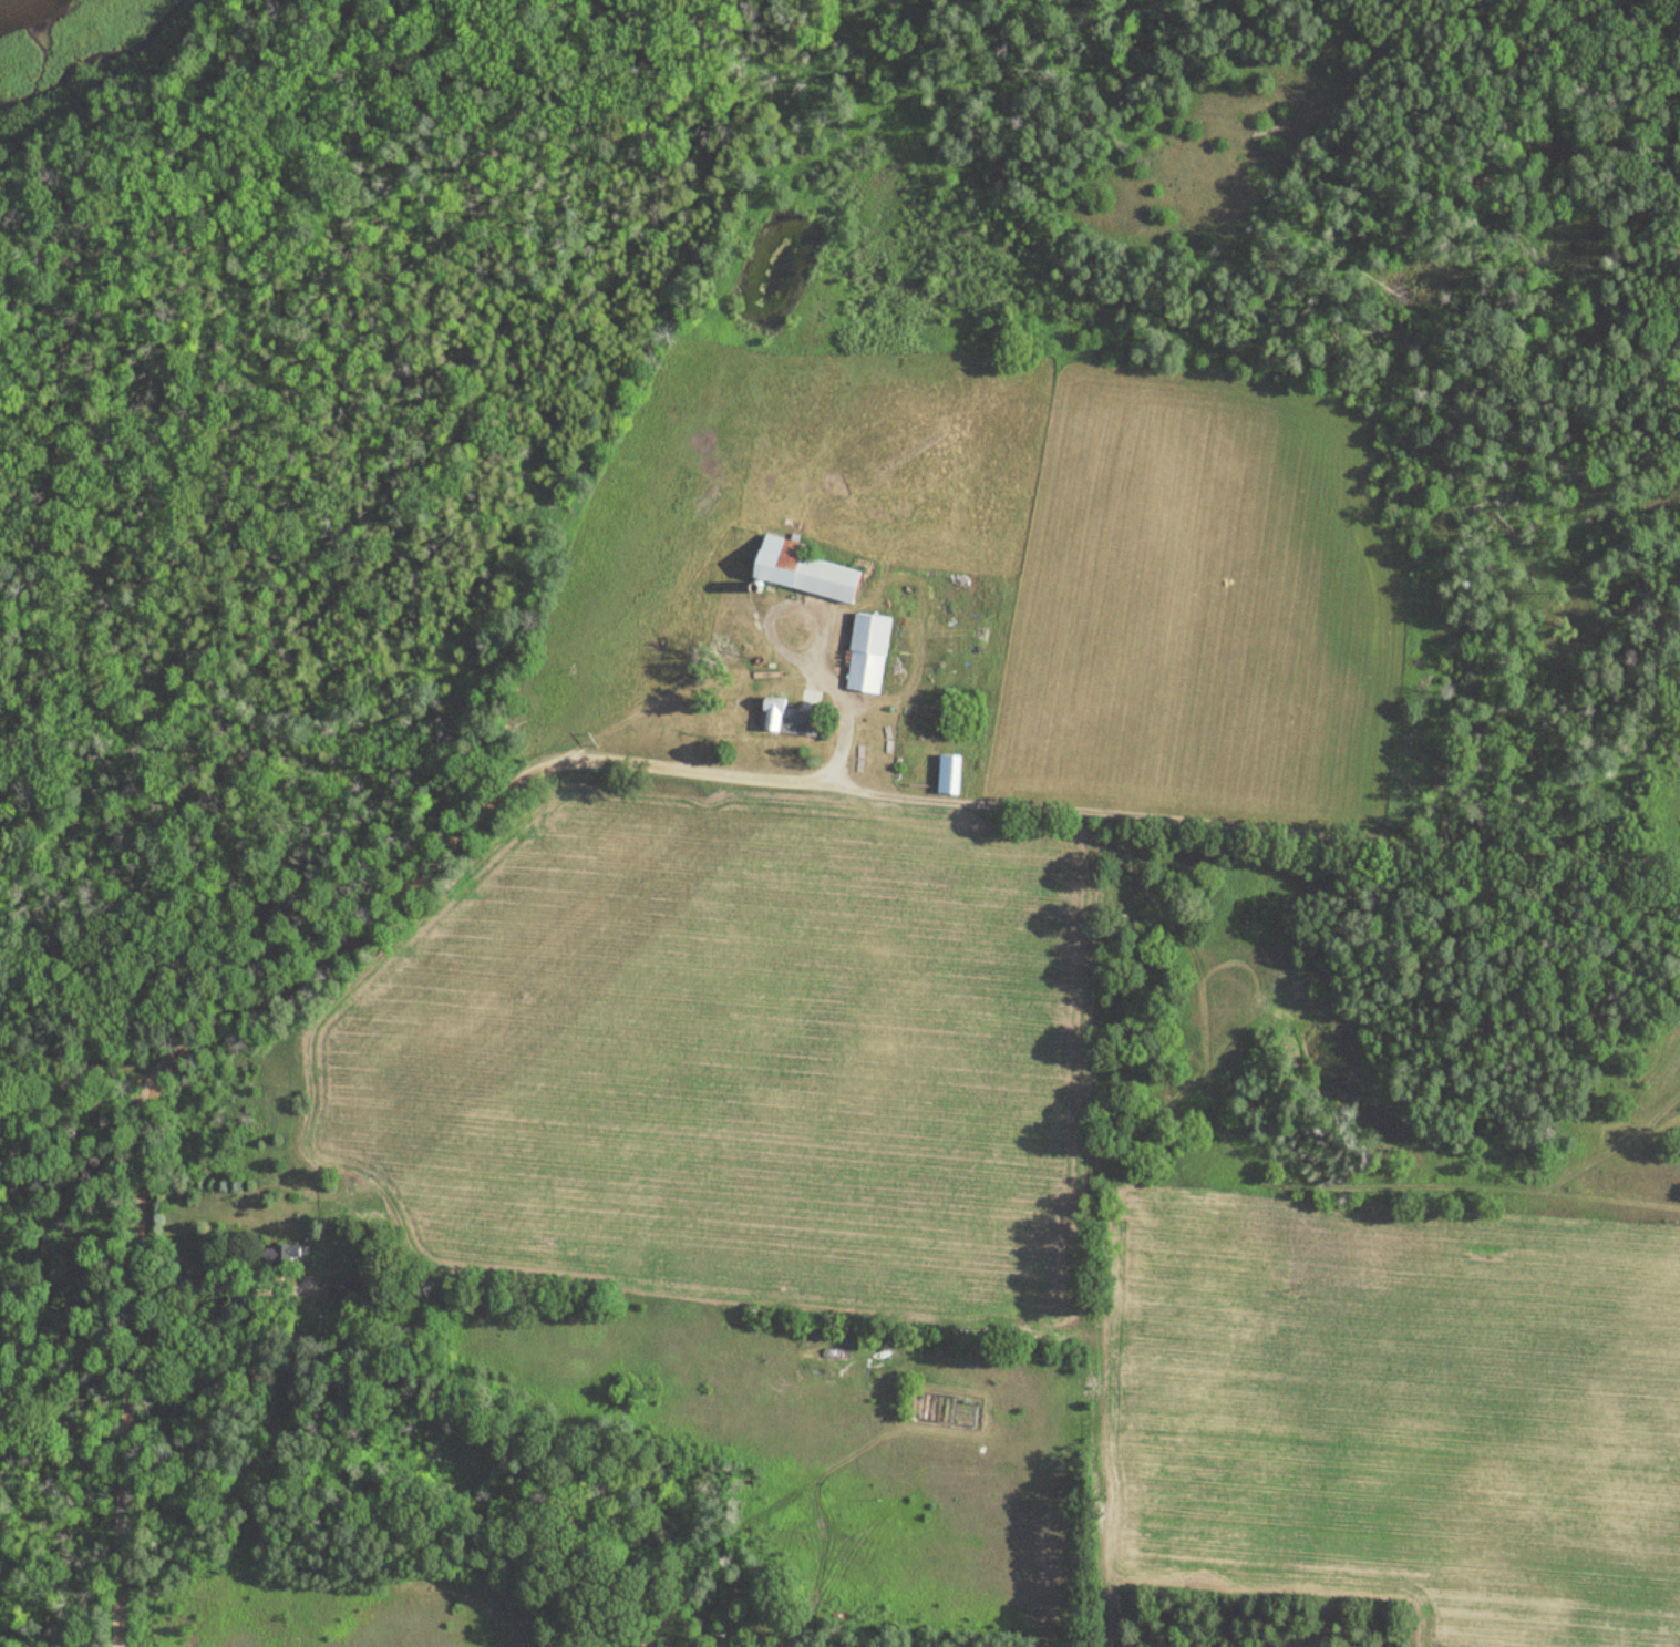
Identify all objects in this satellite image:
river: (9, 3)
building: (806, 572)
building: (866, 649)
road: (787, 656)
road: (810, 686)
road: (668, 693)
road: (852, 704)
building: (786, 718)
road: (455, 825)
road: (1255, 834)
building: (337, 1291)
road: (140, 1363)

